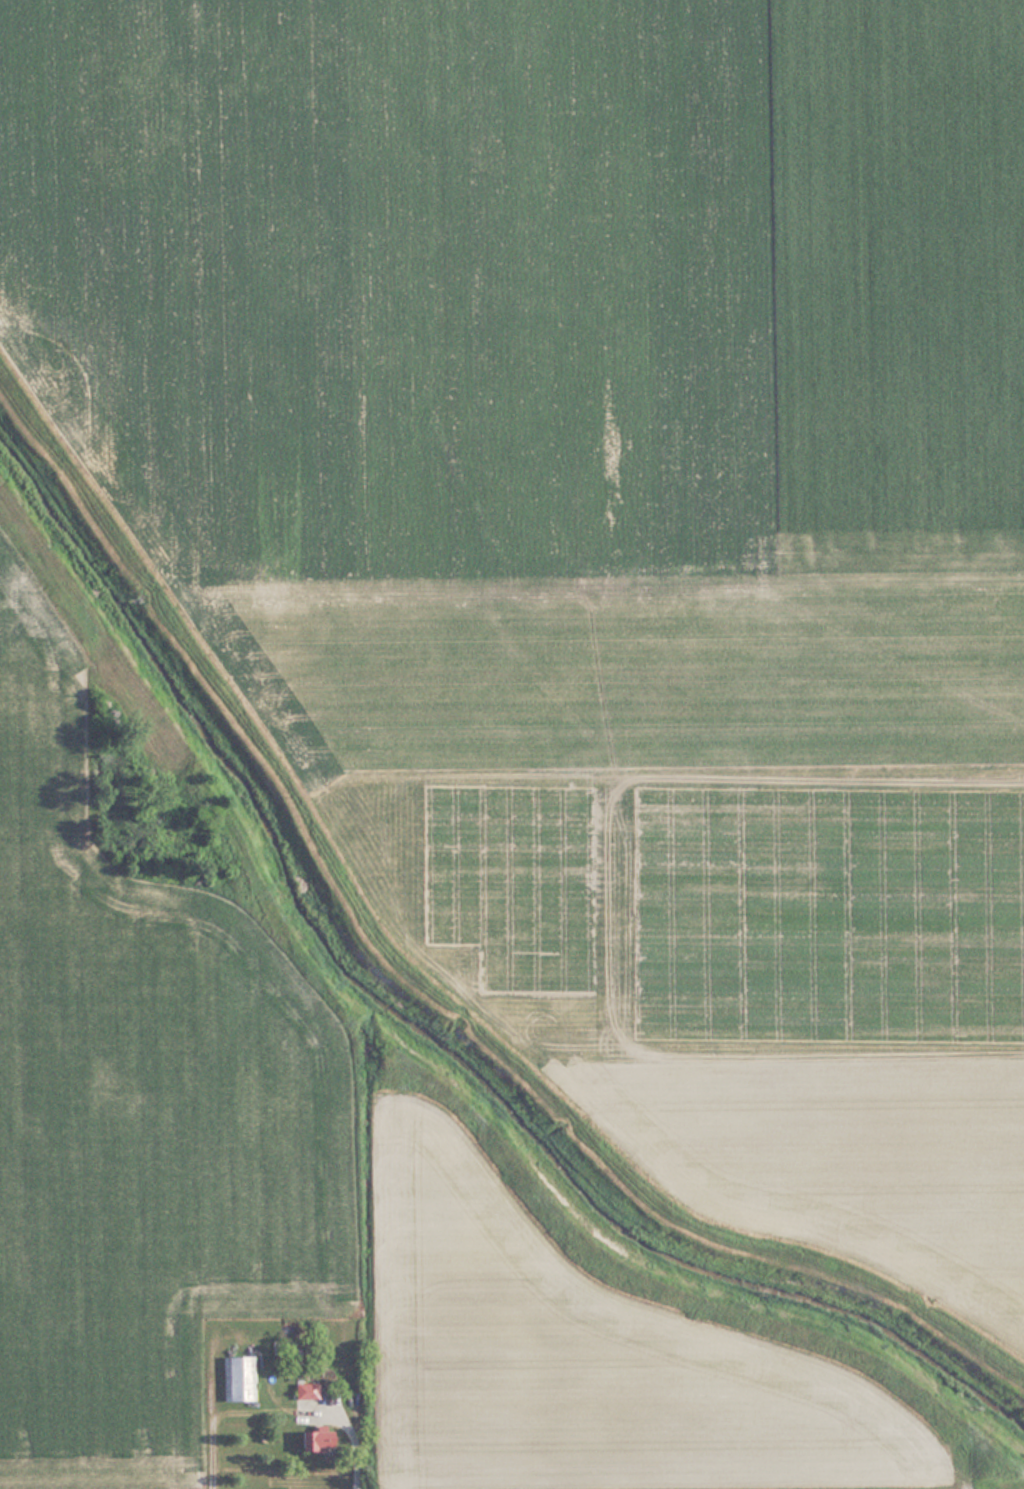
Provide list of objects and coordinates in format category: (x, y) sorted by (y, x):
building: (239, 1378)
building: (305, 1391)
building: (313, 1441)

